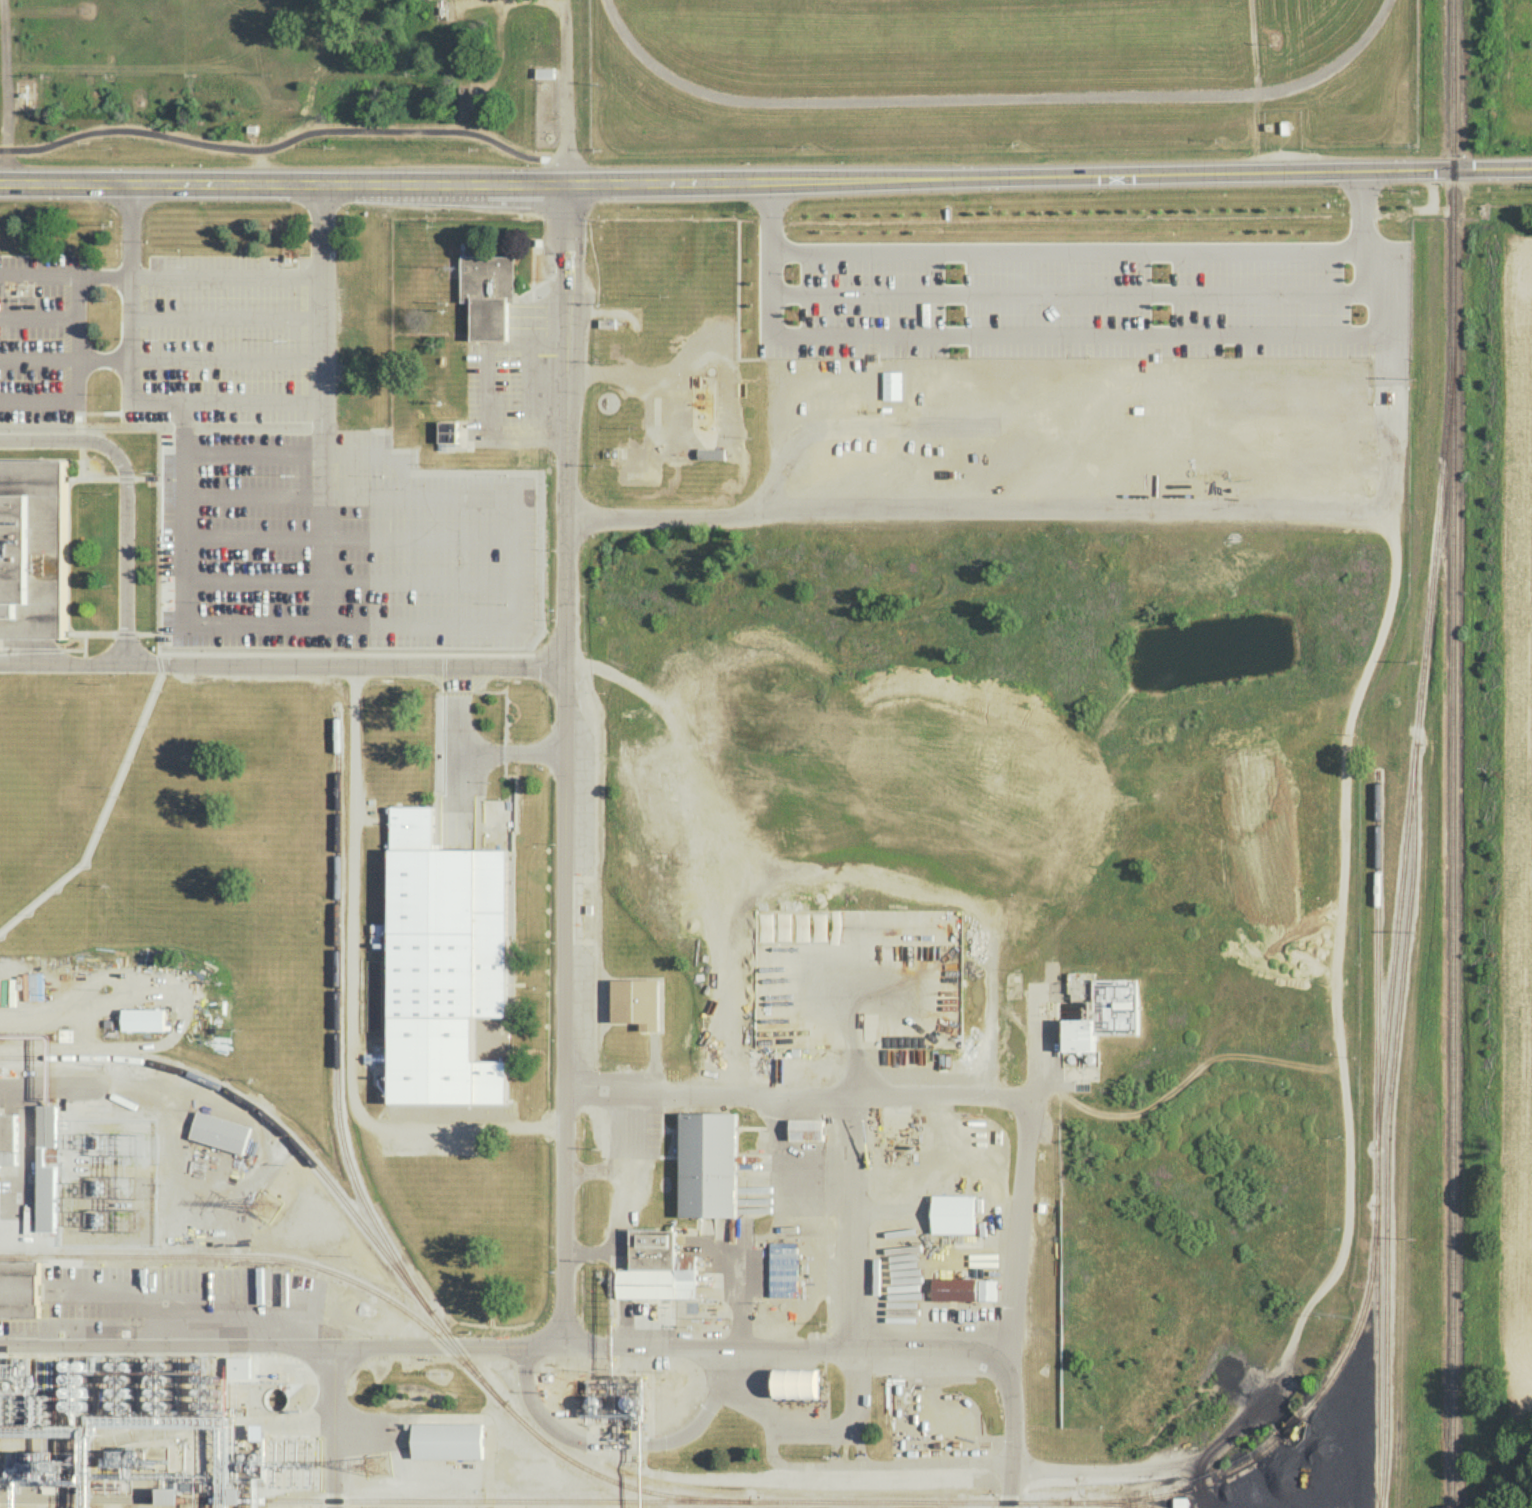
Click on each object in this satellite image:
airport: (998, 75)
road: (3, 93)
road: (567, 93)
road: (996, 102)
road: (284, 137)
road: (766, 184)
road: (1067, 249)
road: (770, 260)
road: (37, 276)
road: (226, 276)
road: (102, 277)
road: (1073, 293)
building: (488, 294)
road: (37, 315)
road: (226, 316)
road: (1078, 334)
road: (37, 358)
road: (102, 358)
road: (226, 359)
road: (75, 376)
road: (130, 388)
road: (486, 390)
road: (252, 450)
road: (380, 452)
road: (252, 494)
road: (124, 499)
road: (1146, 514)
road: (252, 536)
road: (418, 537)
building: (36, 554)
road: (184, 578)
road: (253, 580)
road: (418, 581)
road: (360, 622)
road: (93, 633)
road: (126, 633)
road: (31, 649)
road: (81, 649)
road: (324, 653)
road: (159, 662)
road: (62, 665)
road: (343, 666)
road: (479, 746)
railway: (1452, 753)
road: (562, 766)
road: (101, 817)
railway: (1395, 942)
railway: (1377, 944)
building: (444, 961)
building: (33, 983)
road: (352, 992)
road: (851, 1004)
building: (1105, 1014)
building: (143, 1019)
road: (51, 1087)
road: (937, 1095)
railway: (252, 1103)
road: (624, 1121)
building: (806, 1129)
building: (220, 1132)
building: (8, 1139)
railway: (1386, 1140)
building: (707, 1163)
power substation: (107, 1186)
railway: (368, 1206)
power tower: (269, 1211)
building: (953, 1213)
road: (850, 1222)
railway: (263, 1255)
building: (657, 1267)
building: (783, 1269)
building: (19, 1288)
building: (954, 1288)
building: (987, 1290)
road: (164, 1343)
road: (445, 1348)
road: (851, 1351)
building: (796, 1382)
building: (157, 1415)
road: (336, 1426)
road: (814, 1430)
railway: (1280, 1433)
building: (447, 1440)
road: (621, 1443)
road: (871, 1464)
power tower: (378, 1467)
railway: (580, 1499)

